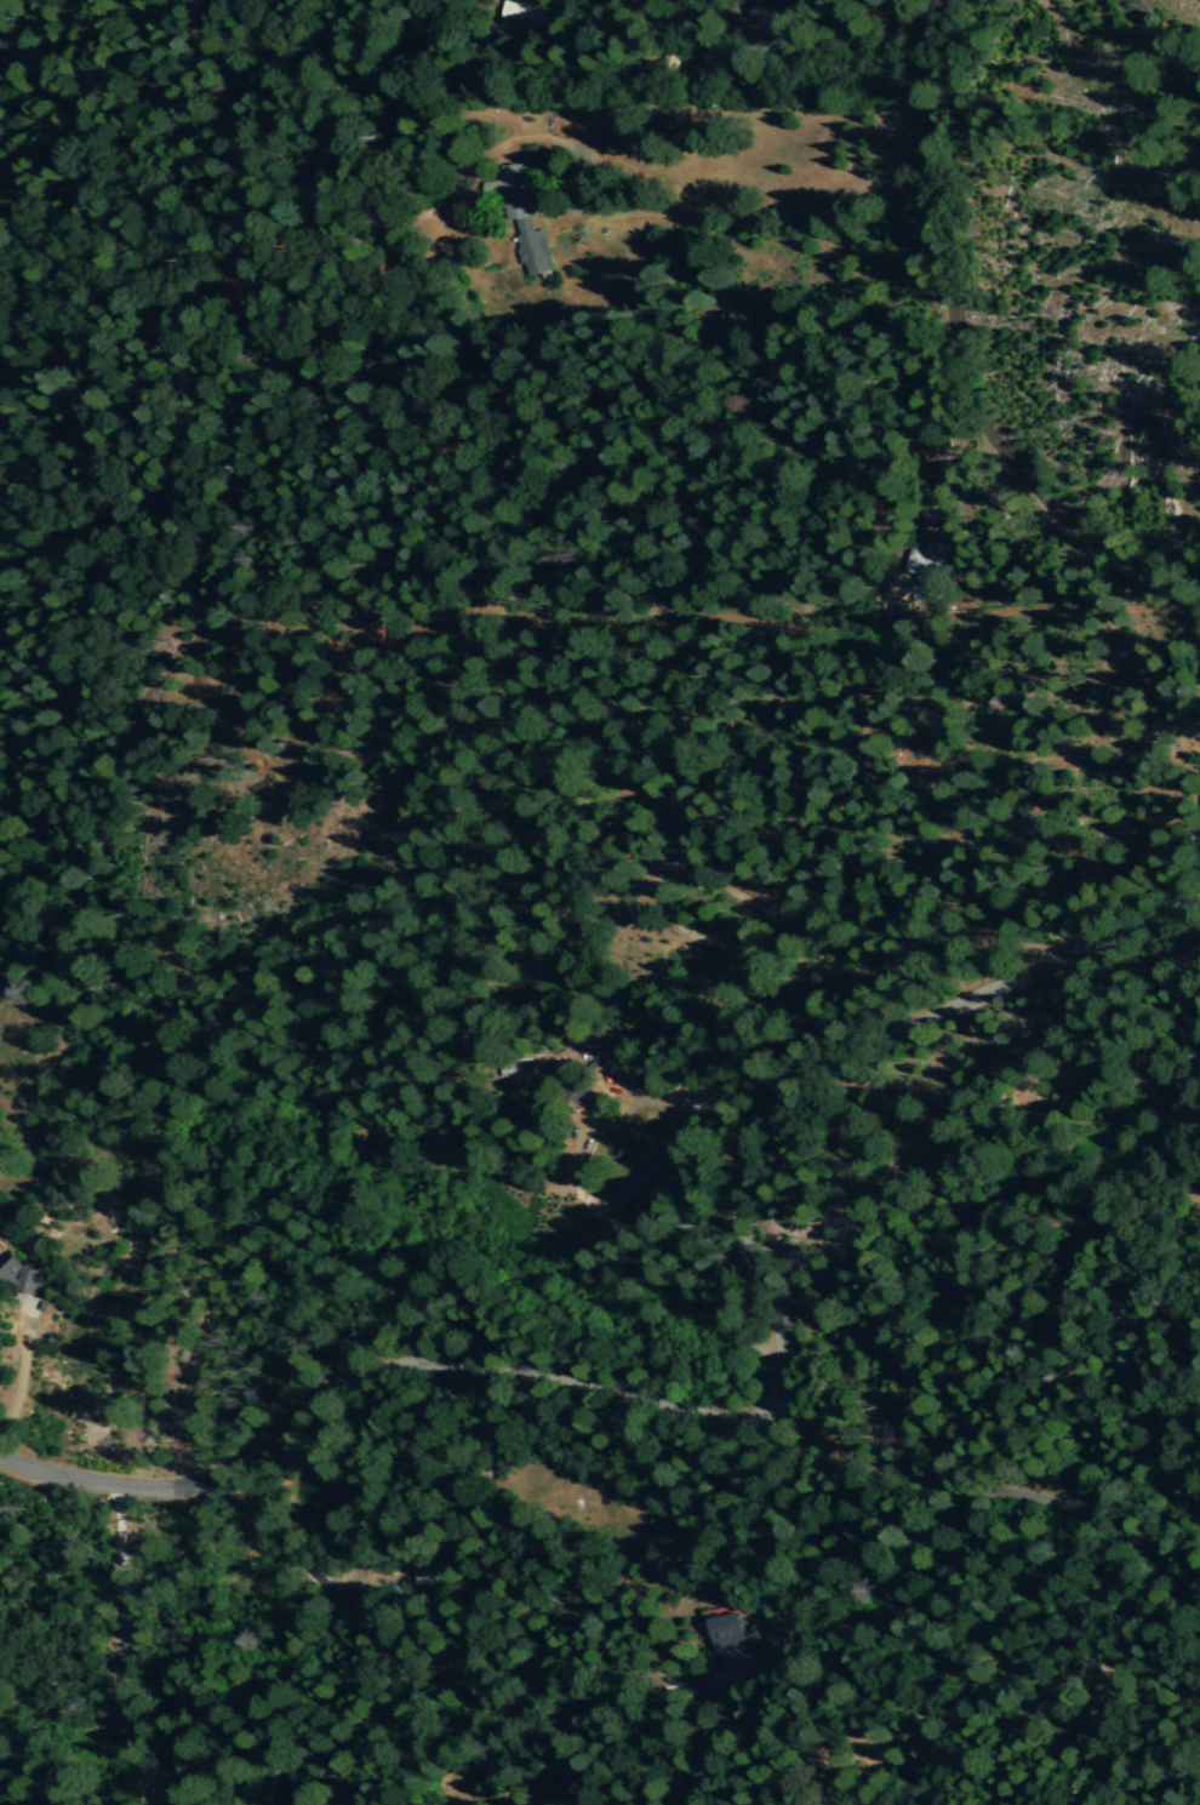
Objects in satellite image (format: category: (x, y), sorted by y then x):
building: (520, 16)
building: (779, 16)
building: (509, 189)
building: (533, 251)
road: (964, 355)
building: (932, 562)
building: (530, 1108)
building: (22, 1275)
road: (758, 1415)
road: (992, 1489)
building: (428, 1575)
building: (728, 1632)
road: (118, 1646)
road: (438, 1686)

